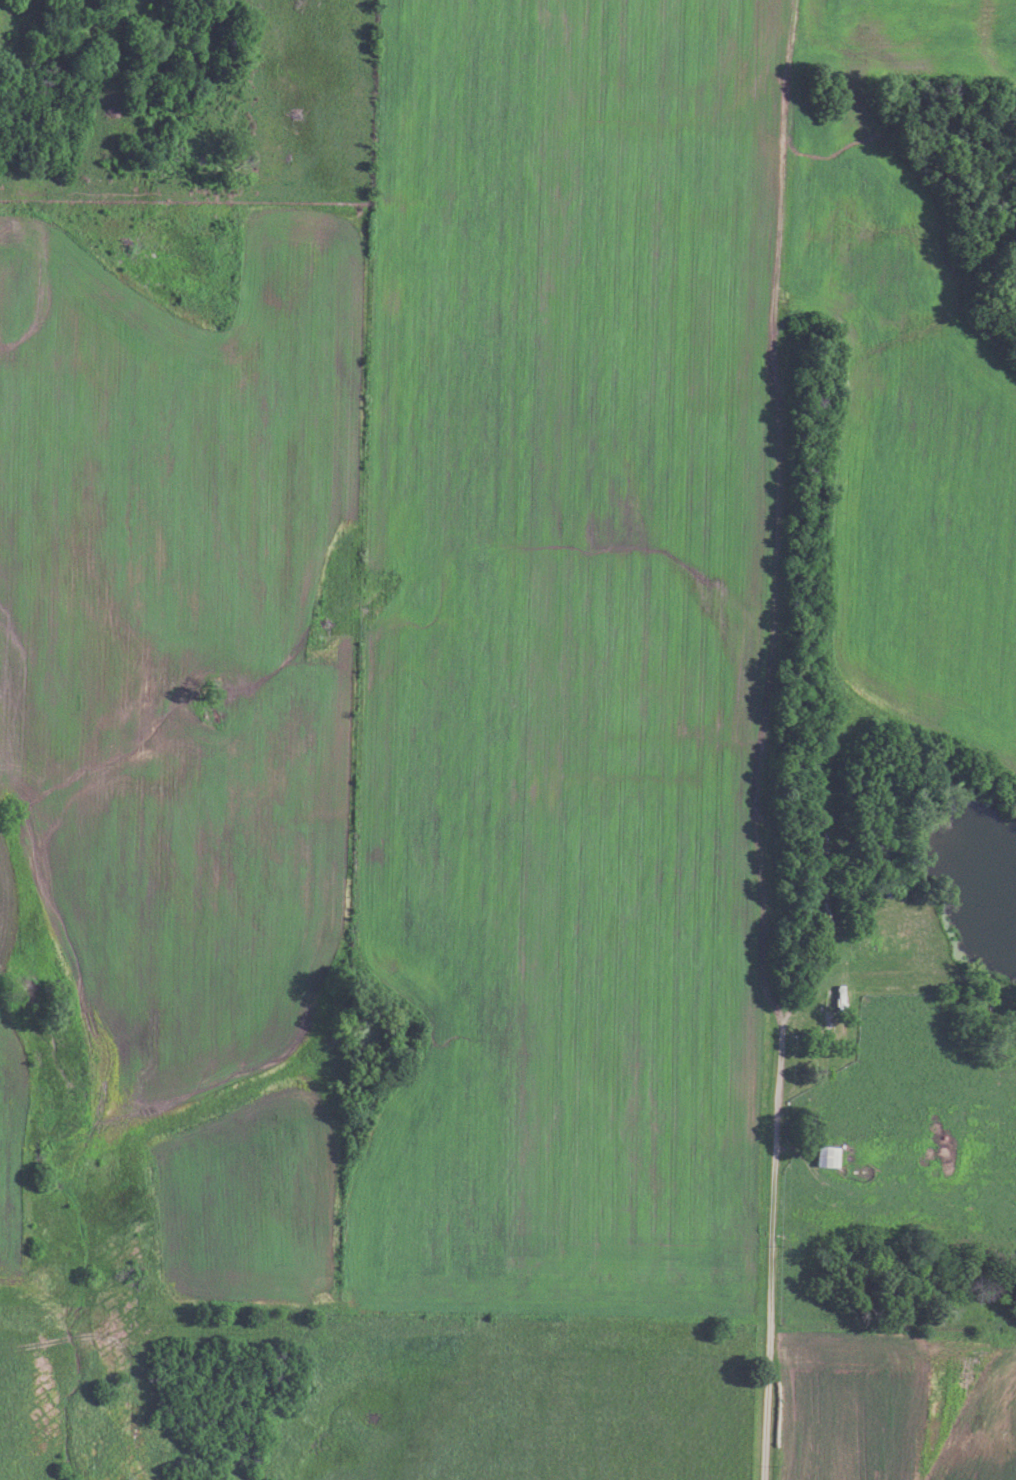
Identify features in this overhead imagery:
building: (827, 1012)
building: (828, 1157)
road: (768, 1237)

